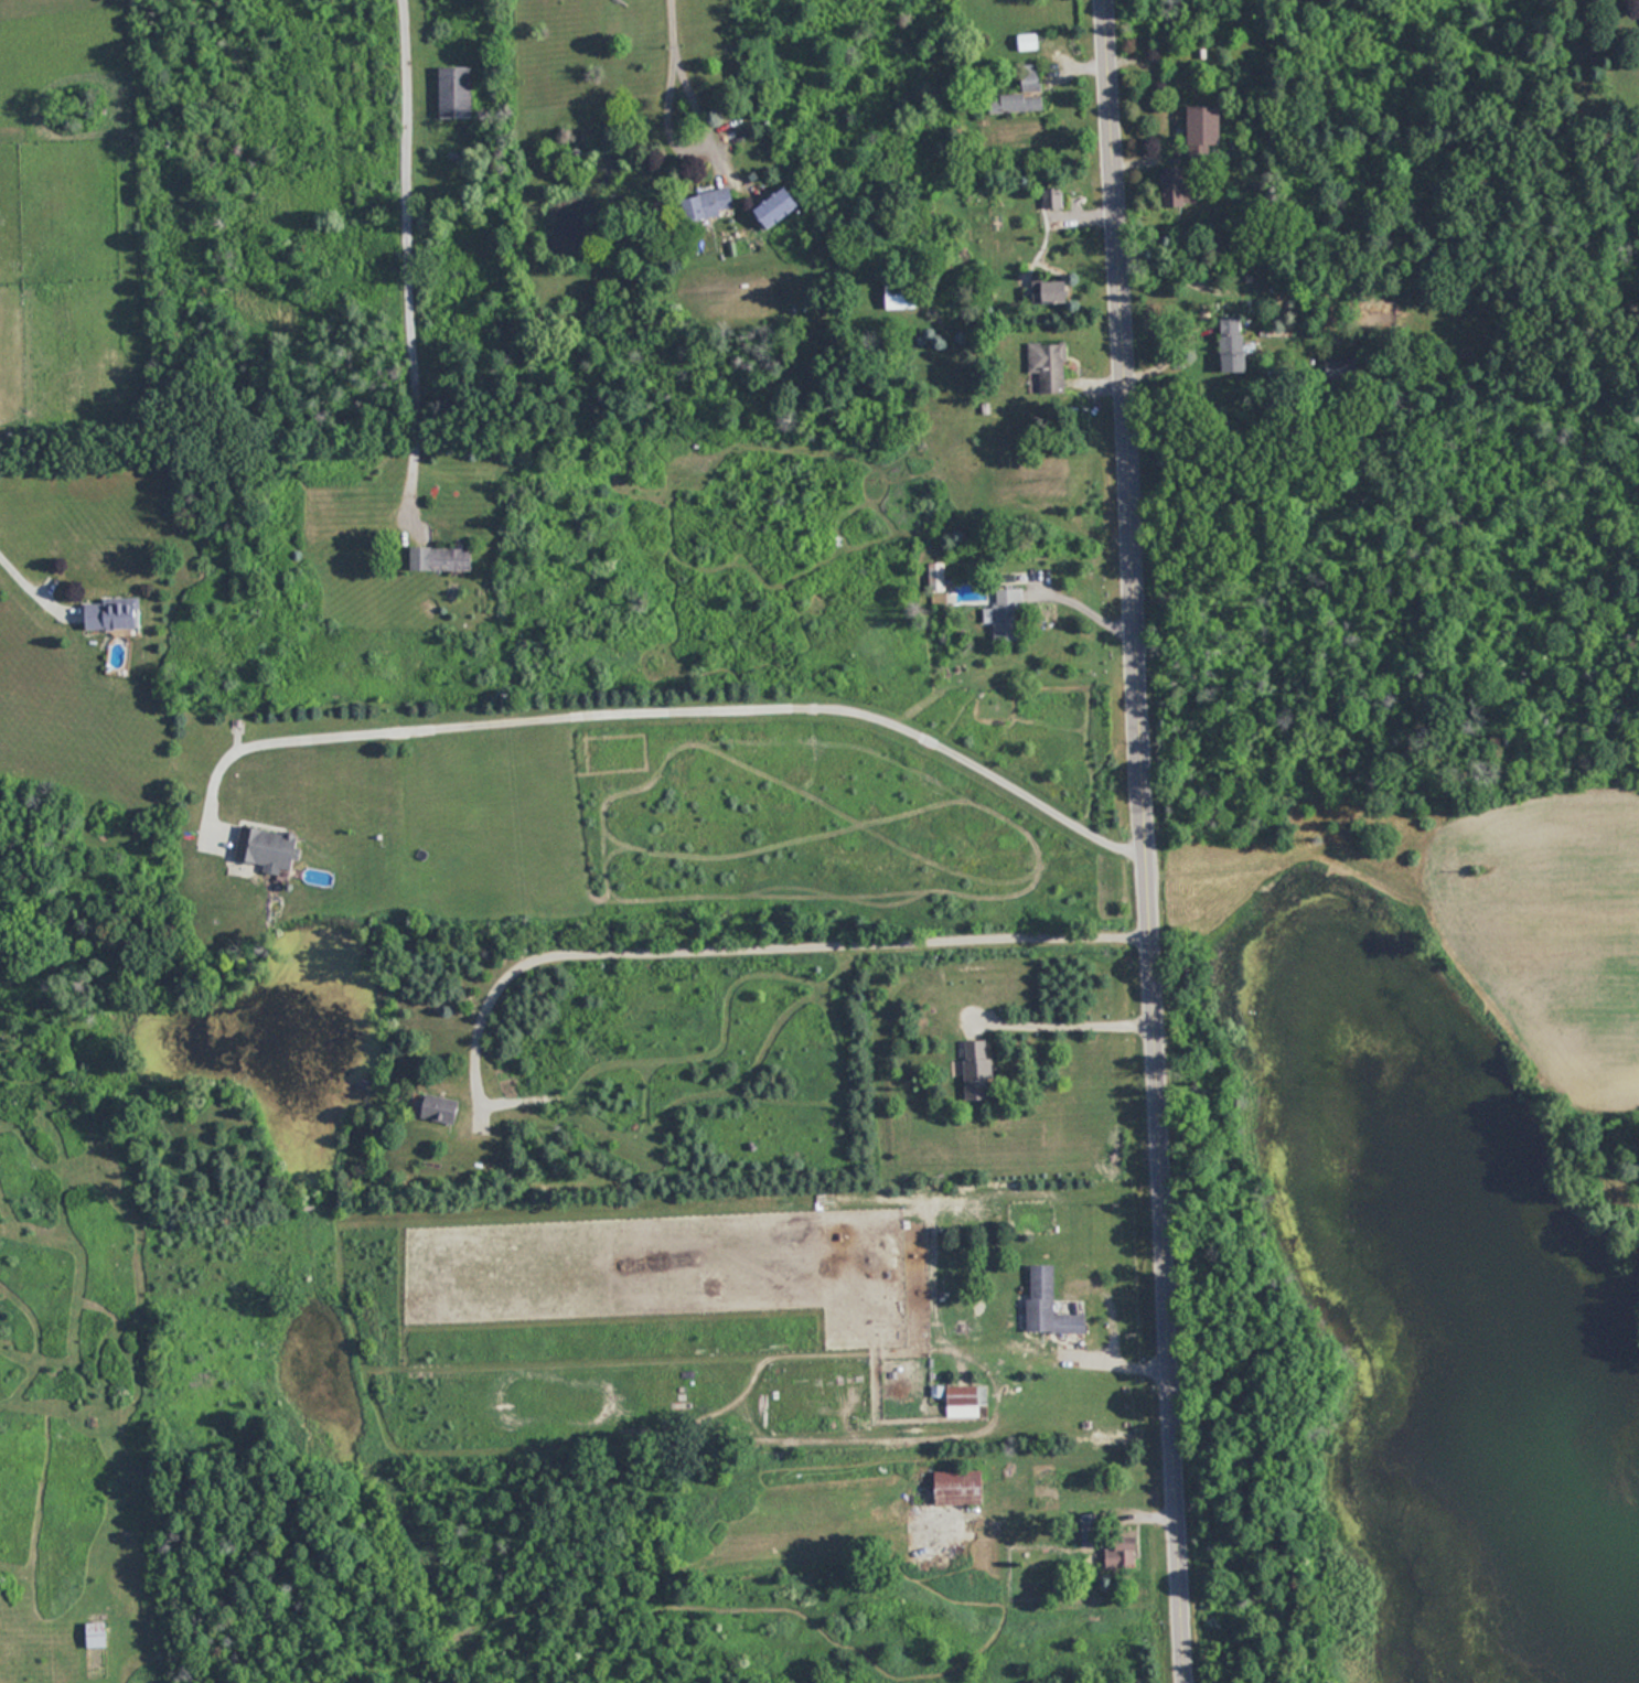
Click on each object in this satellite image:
road: (679, 61)
building: (456, 93)
building: (1022, 96)
building: (1204, 127)
building: (1179, 187)
building: (710, 204)
building: (776, 207)
road: (407, 254)
building: (1060, 293)
building: (903, 297)
building: (1232, 344)
building: (1050, 365)
building: (443, 560)
road: (33, 576)
building: (938, 577)
building: (115, 614)
building: (1008, 615)
road: (661, 707)
road: (1150, 842)
building: (270, 846)
road: (754, 941)
building: (978, 1069)
building: (436, 1106)
building: (1049, 1303)
building: (965, 1400)
building: (961, 1487)
building: (1093, 1542)
building: (97, 1634)

